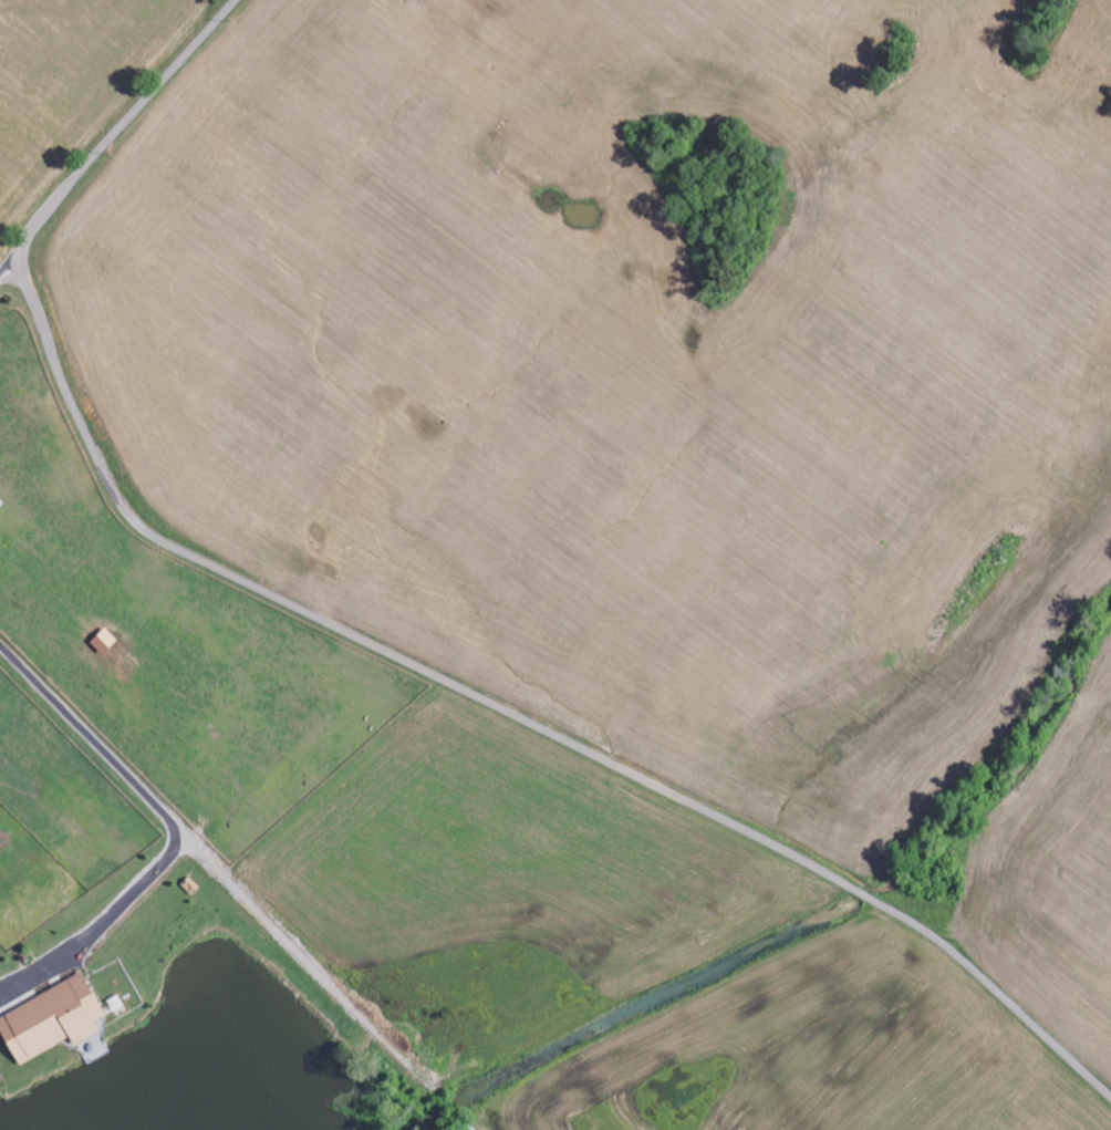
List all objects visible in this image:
road: (113, 135)
road: (510, 717)
building: (52, 1019)

